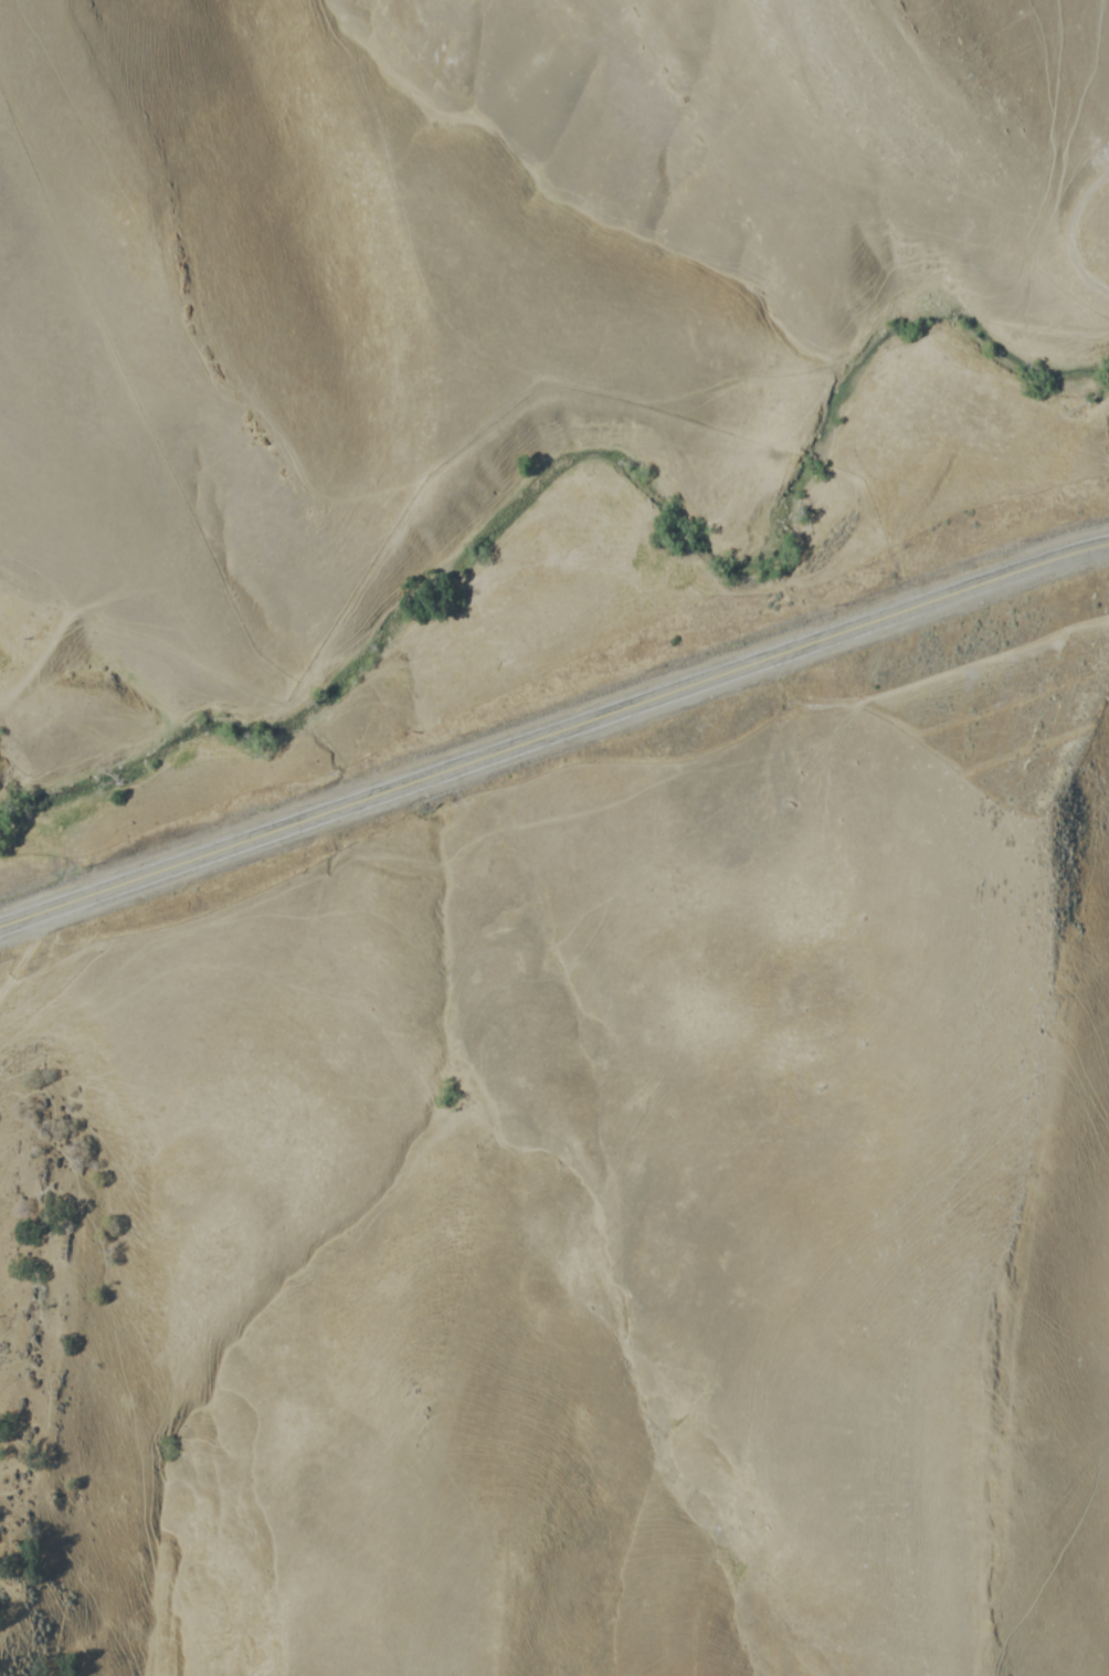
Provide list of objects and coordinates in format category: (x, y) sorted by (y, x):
road: (1071, 232)
road: (553, 708)

